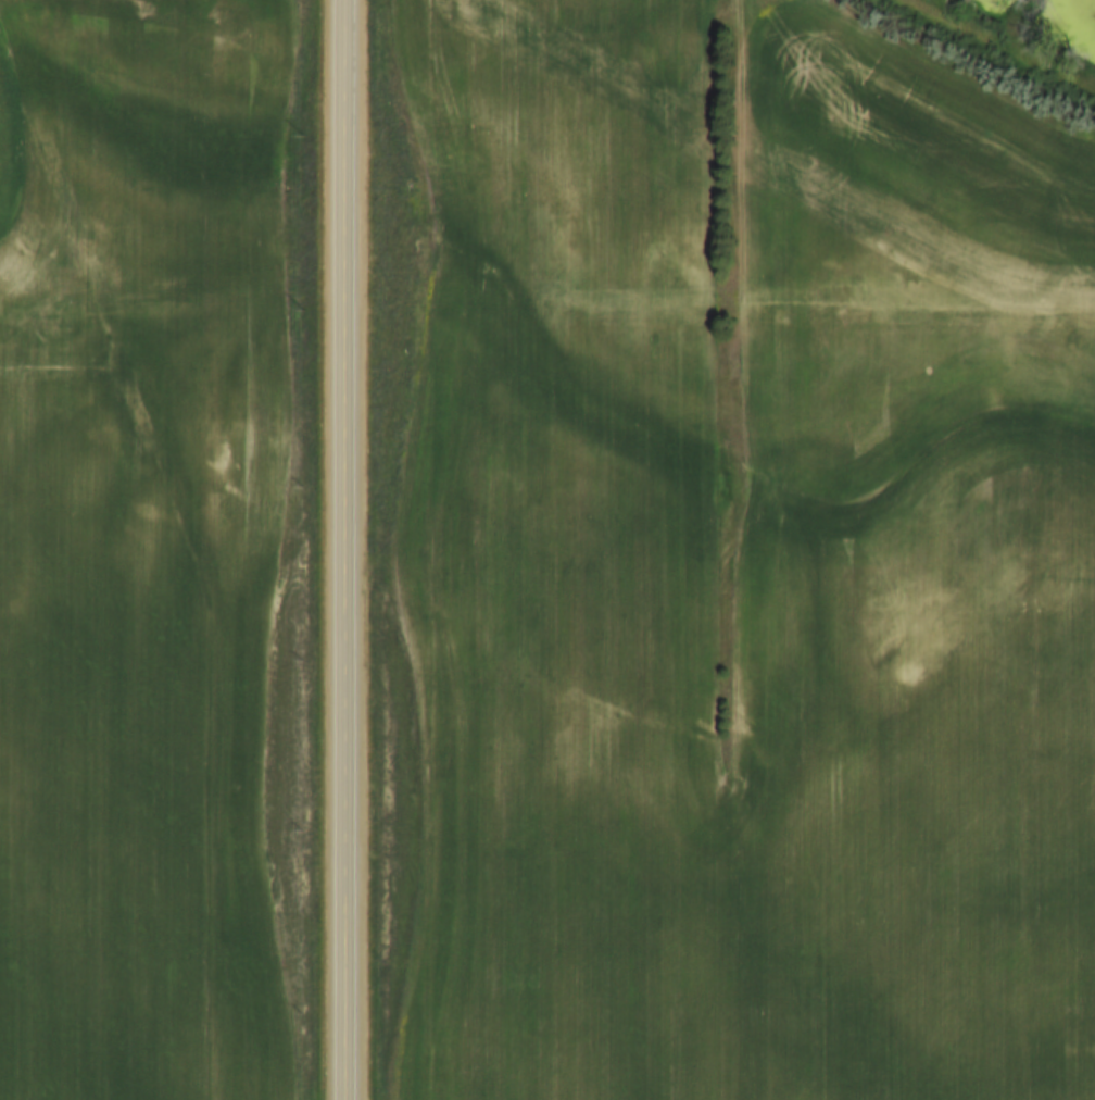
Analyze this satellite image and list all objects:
road: (344, 549)

